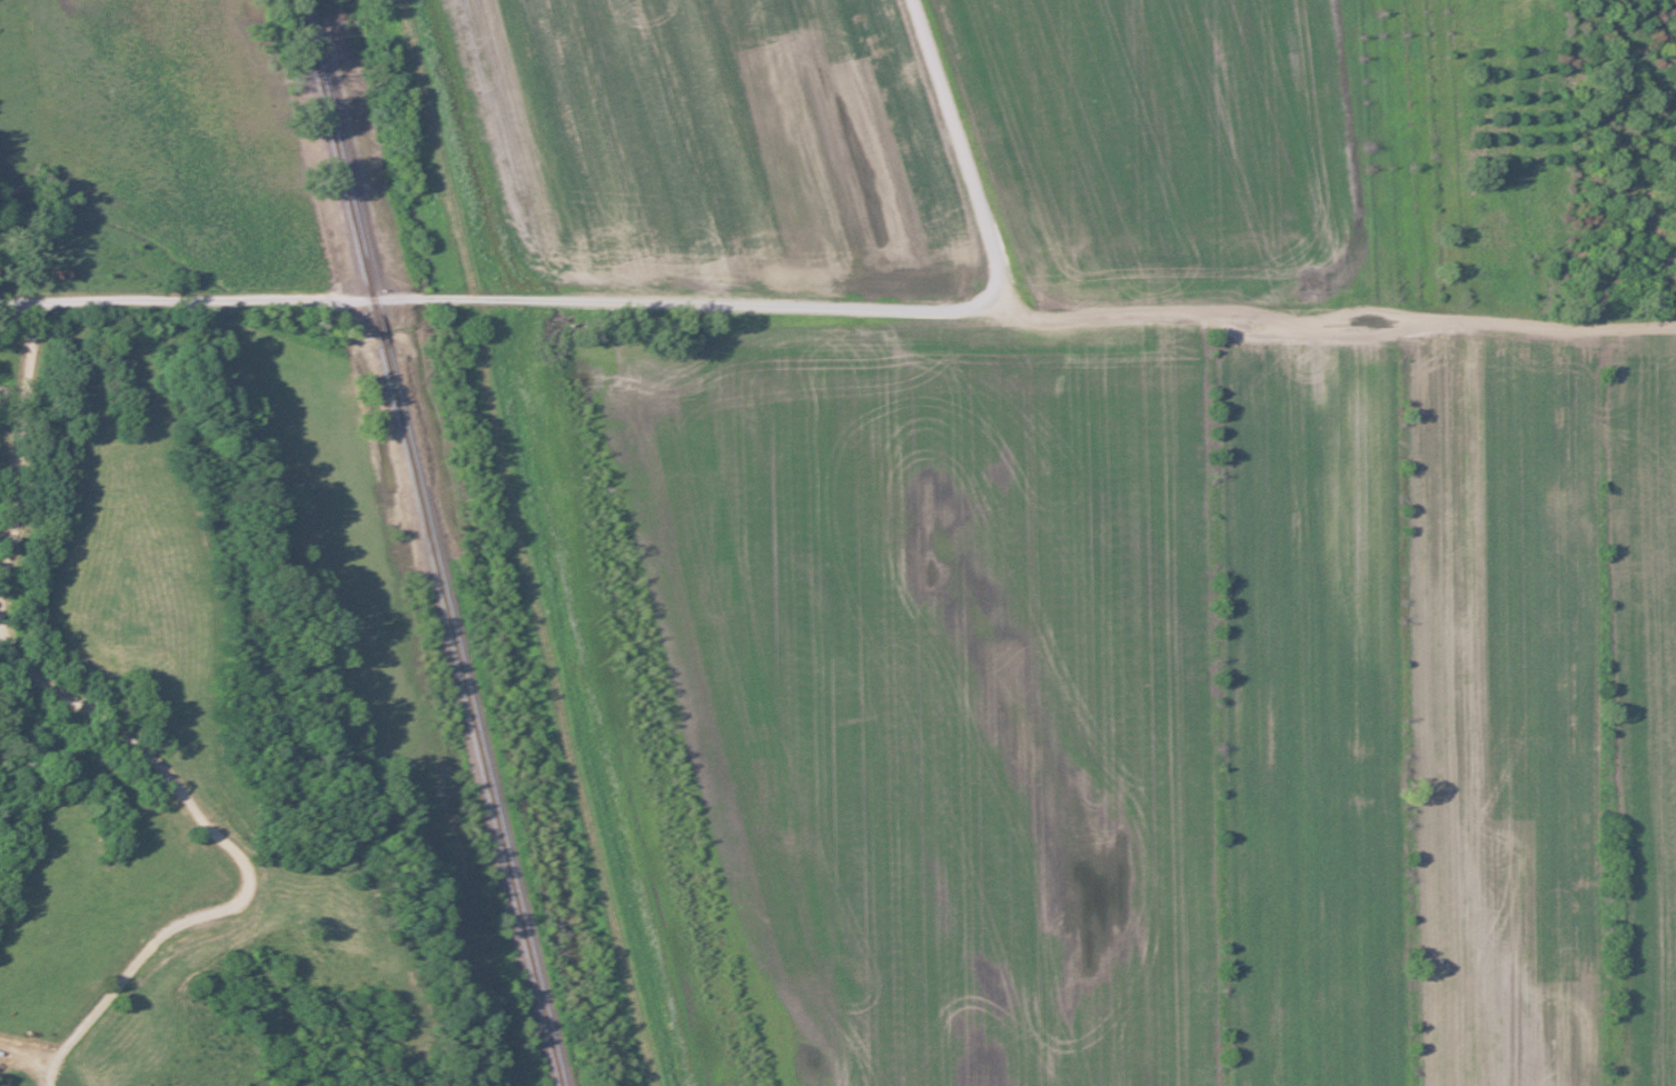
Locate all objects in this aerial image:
road: (964, 151)
road: (493, 297)
road: (1330, 313)
railway: (425, 540)
road: (140, 736)

